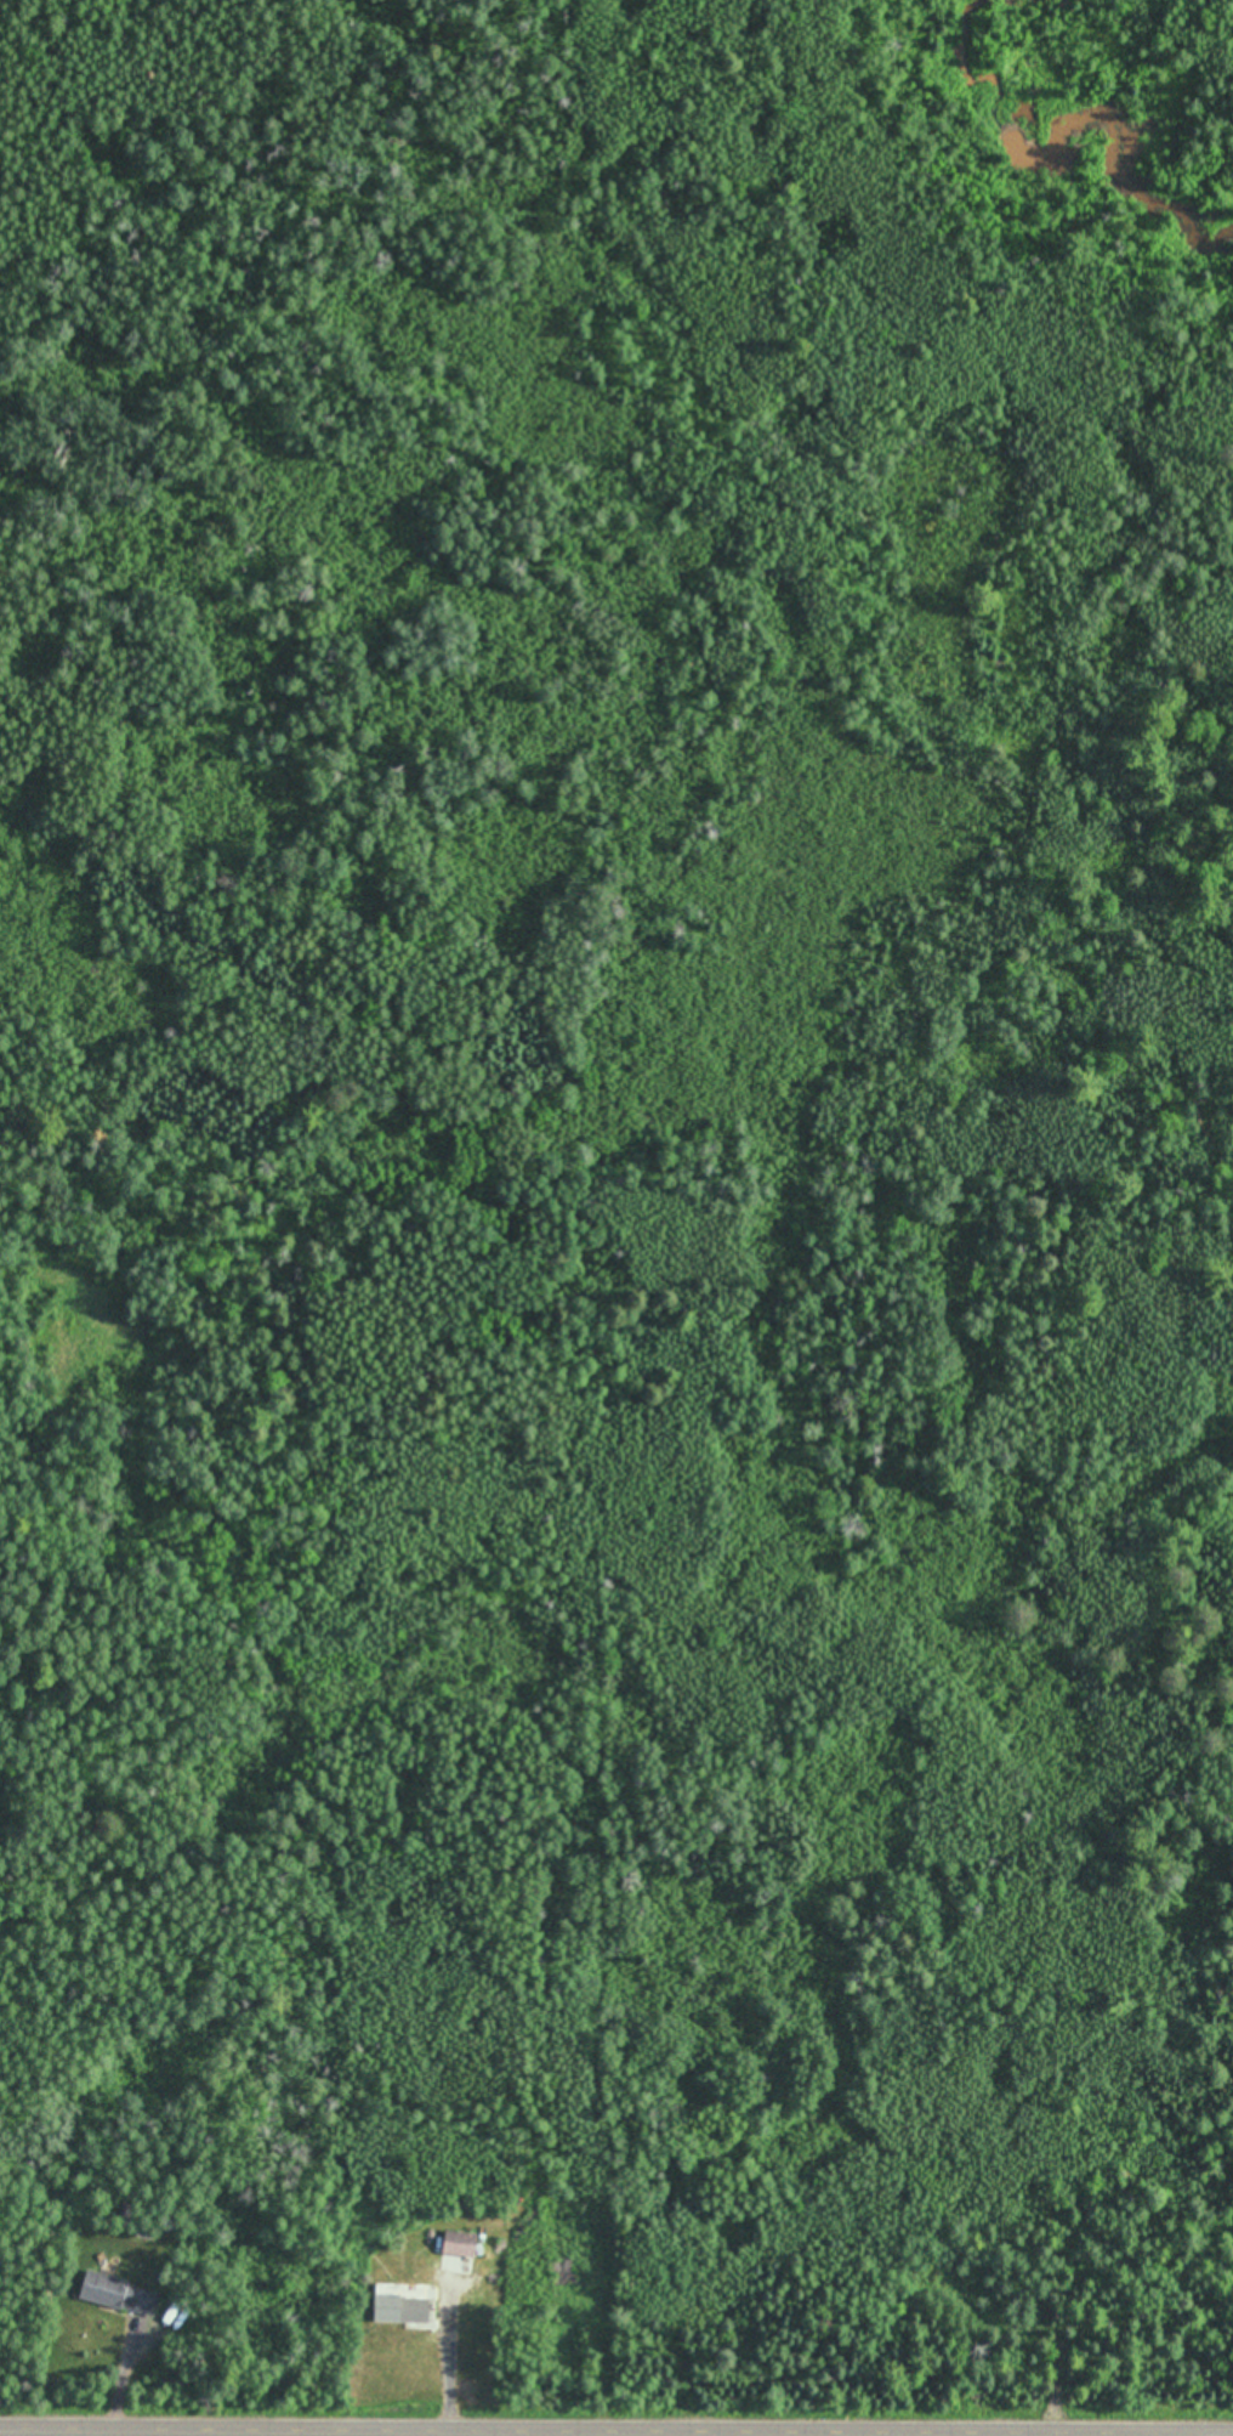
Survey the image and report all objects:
building: (459, 2244)
building: (120, 2294)
building: (402, 2308)
road: (612, 2431)

